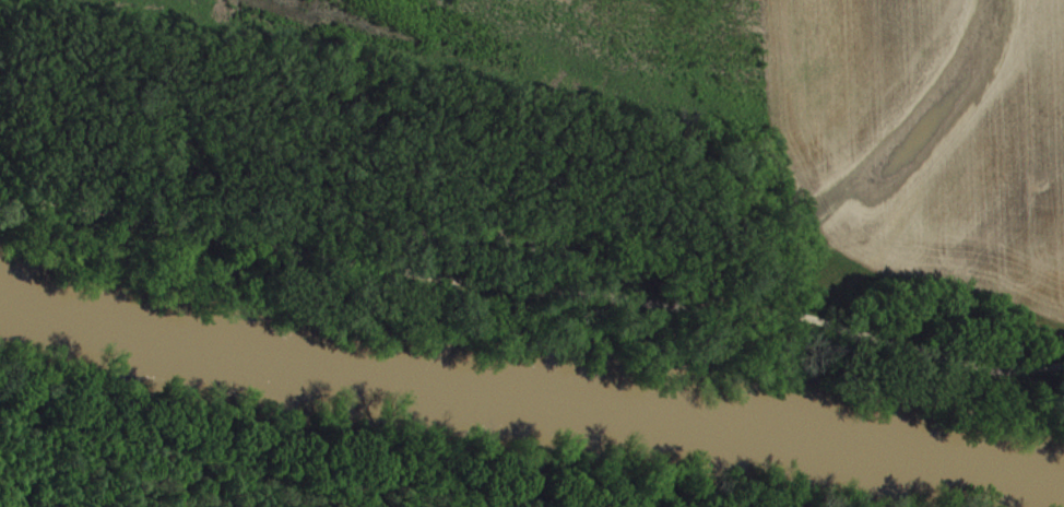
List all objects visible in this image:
road: (532, 290)
river: (531, 388)

